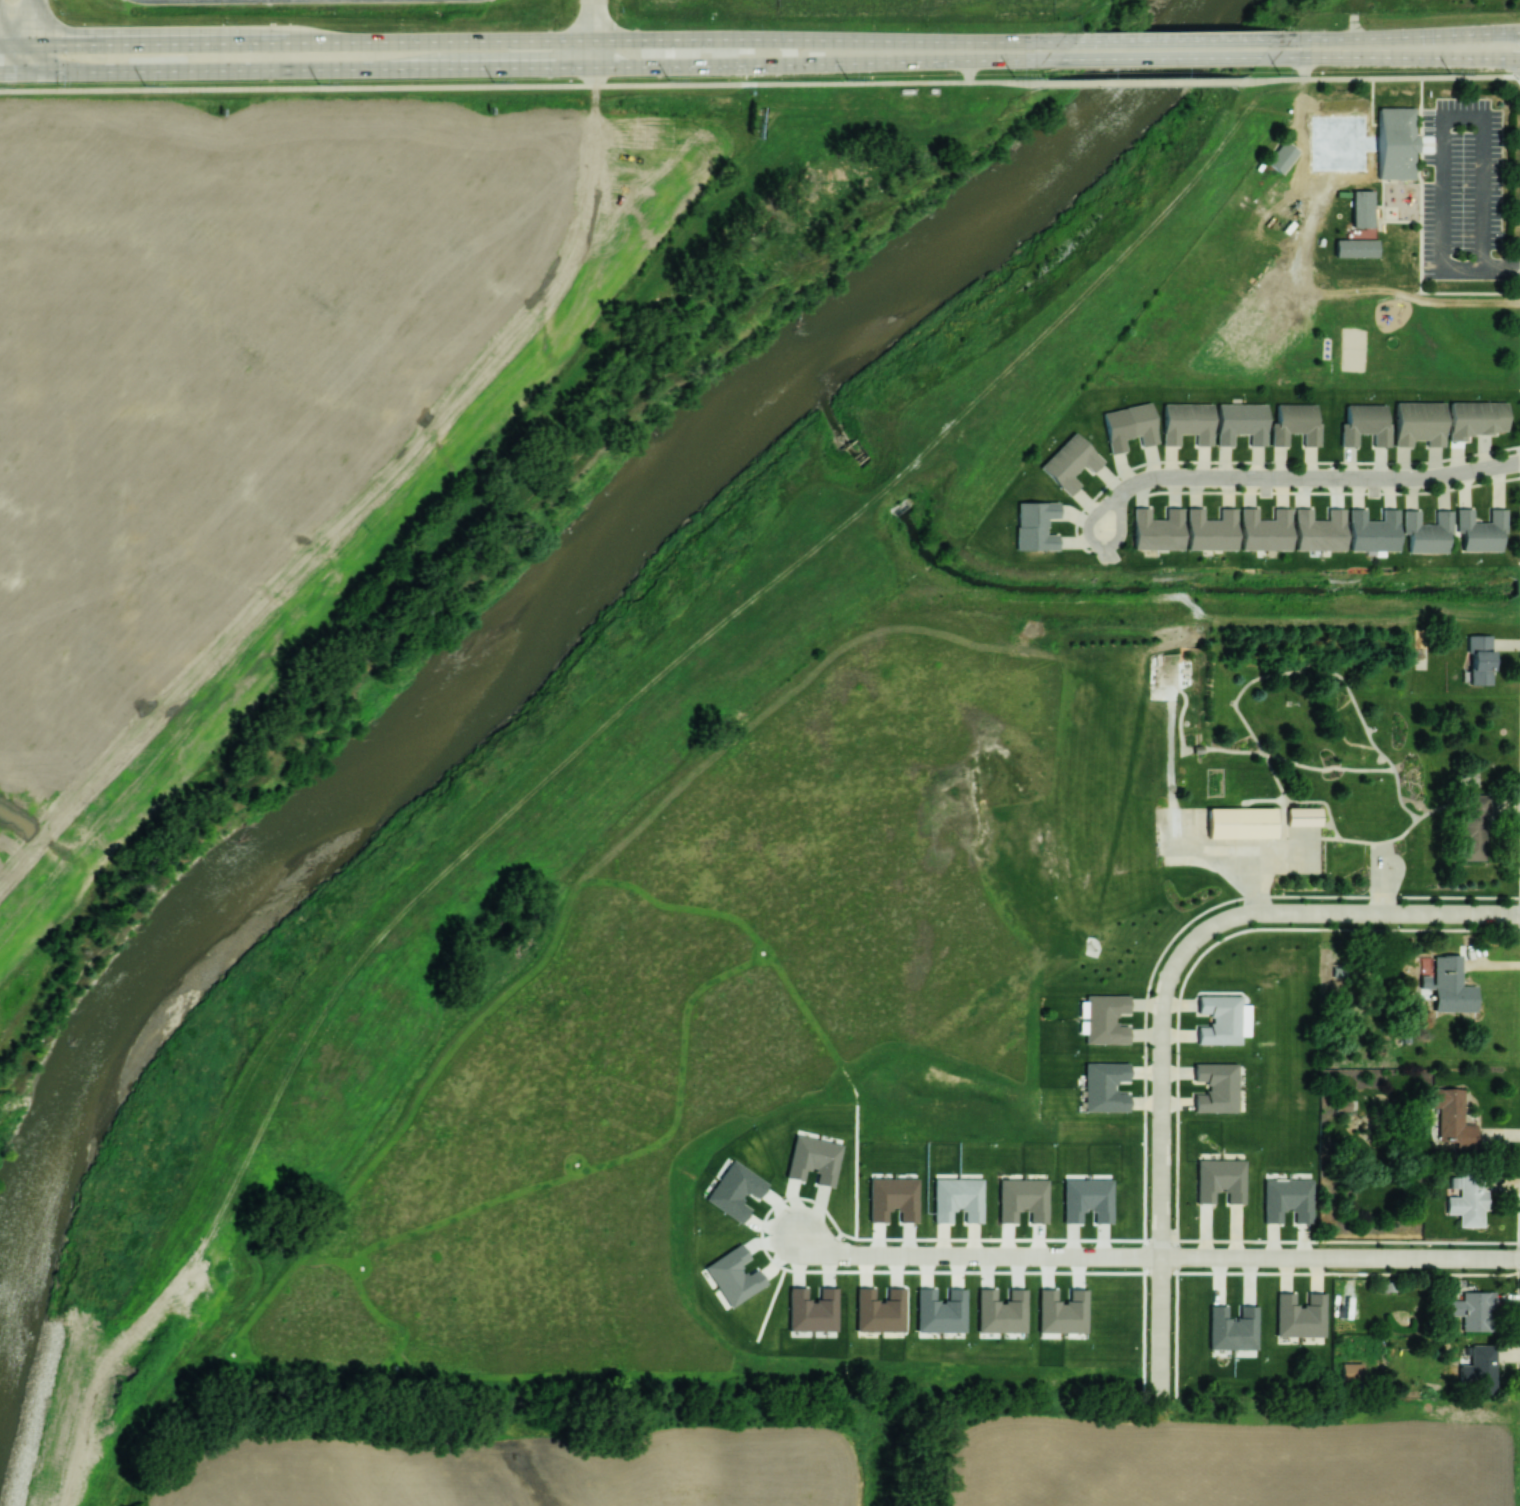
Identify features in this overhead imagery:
road: (170, 0)
road: (593, 33)
road: (31, 36)
road: (1397, 37)
road: (1175, 40)
road: (553, 41)
road: (15, 45)
traffic signals: (31, 46)
road: (1161, 58)
road: (1390, 59)
road: (546, 68)
road: (15, 72)
traffic signals: (31, 72)
power tower: (1449, 72)
power tower: (1279, 74)
power tower: (1013, 76)
power tower: (847, 78)
road: (1380, 78)
power tower: (668, 80)
power tower: (493, 82)
road: (1140, 82)
power tower: (318, 83)
power tower: (144, 84)
road: (520, 85)
building: (1396, 143)
building: (1416, 143)
building: (1281, 156)
building: (1362, 209)
road: (1444, 231)
building: (1355, 248)
park: (1405, 330)
building: (1475, 418)
building: (1186, 422)
building: (1240, 422)
building: (1418, 423)
building: (1294, 424)
building: (1364, 424)
building: (1128, 426)
building: (1069, 462)
road: (1300, 477)
building: (1035, 525)
building: (1156, 530)
building: (1210, 530)
building: (1265, 530)
building: (1318, 530)
building: (1480, 530)
building: (1372, 531)
building: (1426, 531)
river: (556, 583)
building: (1479, 658)
building: (1303, 816)
building: (1240, 822)
building: (1474, 828)
road: (1347, 913)
building: (1449, 985)
building: (1104, 1019)
building: (1222, 1019)
building: (1104, 1086)
building: (1216, 1087)
building: (1342, 1104)
building: (1452, 1118)
building: (813, 1159)
road: (1161, 1166)
building: (1220, 1180)
building: (734, 1190)
building: (892, 1198)
building: (957, 1199)
building: (1022, 1199)
building: (1087, 1200)
building: (1287, 1200)
building: (1466, 1201)
road: (977, 1254)
road: (1340, 1256)
building: (733, 1276)
building: (812, 1310)
building: (879, 1310)
building: (1472, 1310)
building: (940, 1311)
building: (1001, 1311)
building: (1061, 1311)
building: (1299, 1315)
building: (1232, 1328)
building: (1482, 1368)
building: (1351, 1371)

